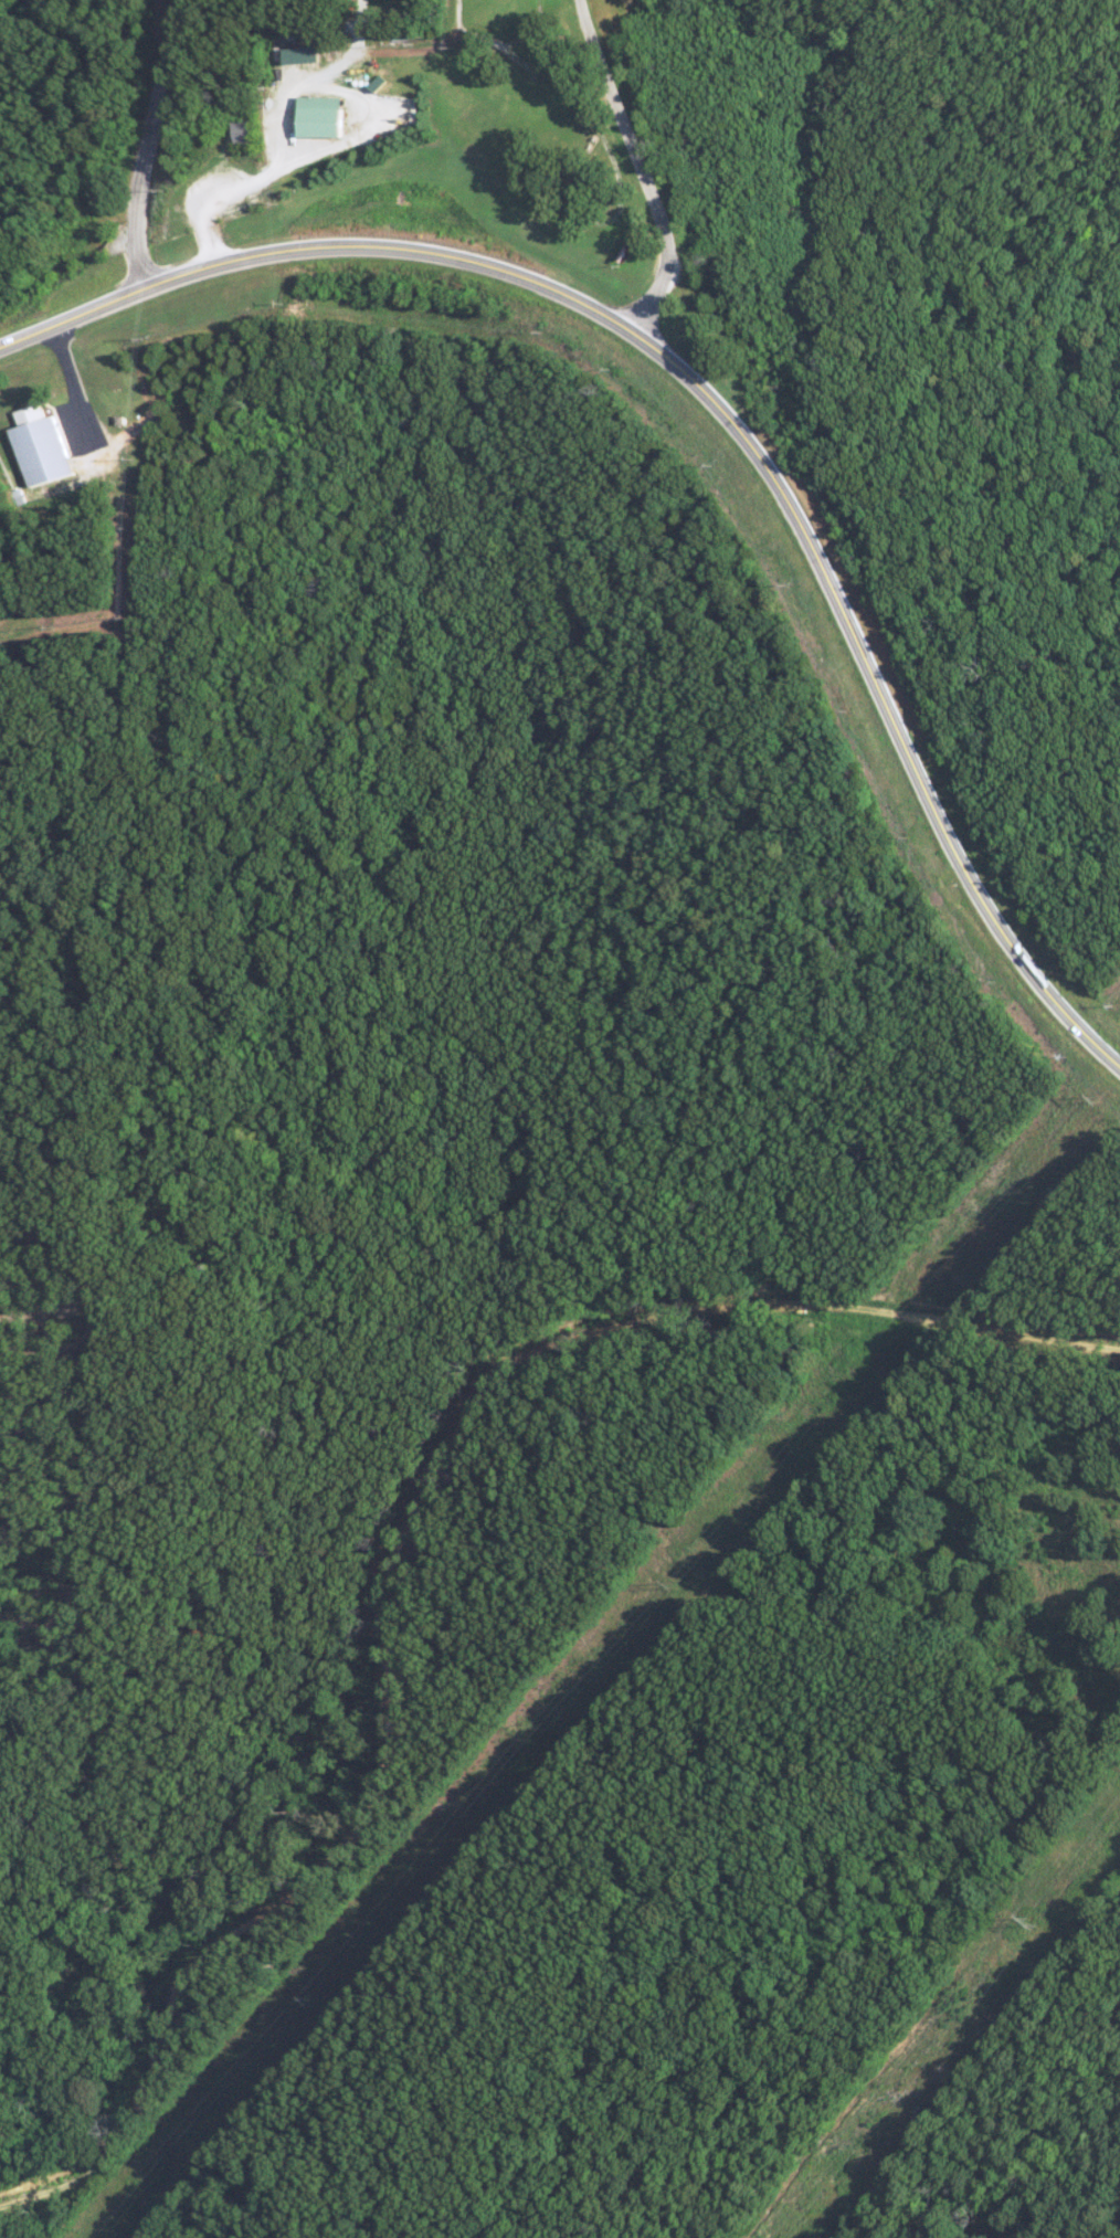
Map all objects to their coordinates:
building: (303, 54)
building: (319, 116)
road: (150, 144)
road: (636, 166)
road: (719, 404)
building: (39, 446)
power tower: (1091, 1098)
power tower: (667, 1585)
power tower: (1028, 1921)
power tower: (305, 2002)

